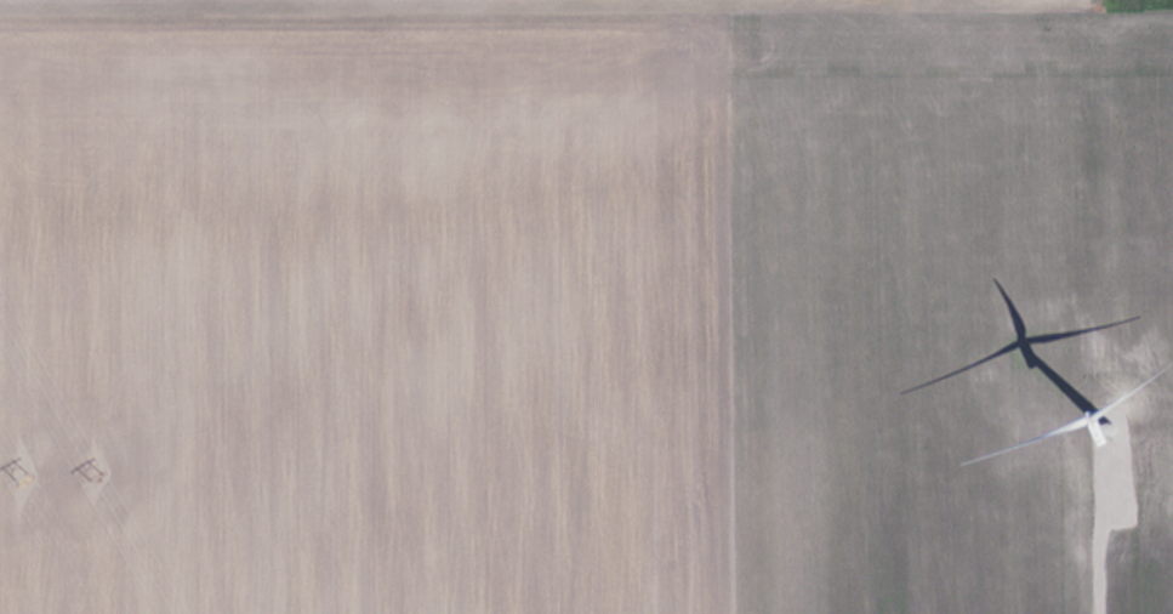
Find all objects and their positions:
wind turbine: (1107, 422)
power tower: (97, 474)
power tower: (23, 478)
road: (1104, 540)

